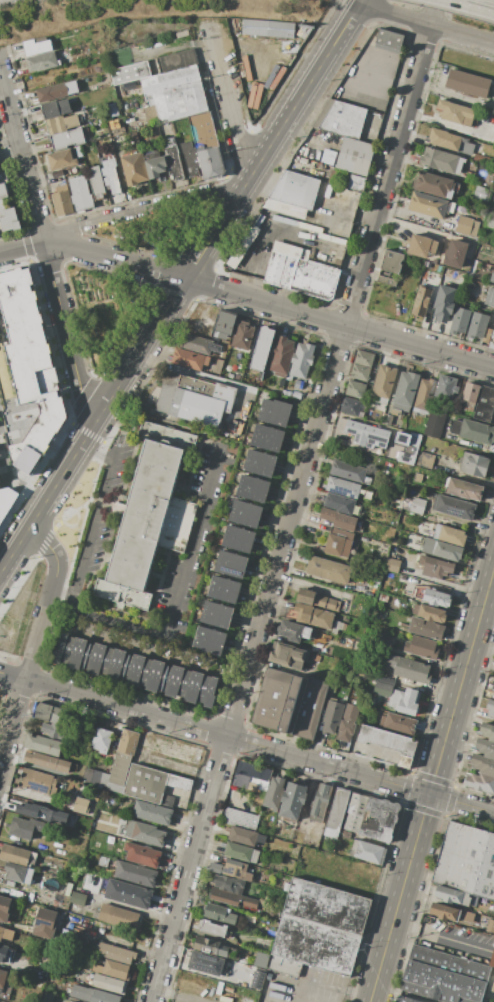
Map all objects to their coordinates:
road: (426, 25)
building: (266, 28)
building: (389, 39)
building: (36, 46)
road: (164, 49)
parking lot: (263, 54)
building: (41, 61)
building: (172, 62)
building: (130, 73)
building: (467, 84)
building: (71, 87)
building: (51, 92)
building: (175, 93)
road: (229, 102)
building: (55, 108)
building: (456, 112)
building: (151, 115)
building: (341, 119)
building: (62, 124)
road: (449, 126)
building: (202, 131)
building: (67, 139)
building: (134, 140)
building: (444, 140)
building: (326, 156)
building: (355, 156)
building: (190, 158)
building: (173, 159)
building: (61, 160)
building: (439, 160)
building: (210, 163)
building: (155, 167)
building: (134, 169)
building: (111, 176)
building: (96, 182)
building: (356, 183)
building: (434, 185)
building: (295, 189)
building: (3, 190)
building: (80, 193)
building: (480, 193)
building: (337, 195)
building: (62, 201)
building: (428, 205)
road: (145, 207)
building: (290, 209)
building: (8, 217)
building: (491, 221)
road: (278, 226)
building: (466, 226)
building: (422, 245)
road: (46, 246)
building: (242, 248)
building: (291, 251)
building: (455, 253)
building: (492, 257)
building: (392, 262)
building: (280, 270)
park: (125, 273)
building: (491, 277)
building: (315, 279)
building: (386, 281)
road: (180, 285)
building: (468, 286)
road: (247, 297)
building: (489, 297)
building: (421, 301)
building: (444, 302)
building: (459, 321)
building: (224, 324)
building: (477, 325)
building: (487, 335)
building: (492, 335)
building: (242, 338)
building: (196, 344)
building: (216, 347)
building: (262, 348)
building: (281, 355)
building: (364, 358)
building: (189, 359)
building: (302, 360)
building: (360, 372)
building: (383, 383)
building: (298, 384)
building: (447, 386)
building: (355, 390)
building: (405, 392)
building: (425, 395)
building: (469, 397)
building: (196, 401)
building: (485, 404)
building: (276, 406)
building: (350, 406)
building: (32, 414)
building: (272, 417)
building: (434, 425)
building: (269, 432)
building: (476, 432)
building: (367, 434)
building: (22, 443)
building: (266, 443)
building: (409, 449)
building: (262, 457)
building: (425, 460)
building: (474, 464)
building: (259, 468)
building: (349, 472)
building: (417, 477)
building: (255, 483)
building: (343, 487)
building: (464, 489)
building: (251, 494)
building: (5, 500)
road: (293, 500)
building: (339, 503)
building: (417, 506)
building: (453, 507)
building: (247, 508)
building: (430, 518)
building: (244, 519)
building: (338, 519)
road: (95, 520)
building: (147, 525)
road: (78, 531)
building: (240, 534)
building: (449, 535)
road: (194, 541)
building: (338, 542)
building: (236, 545)
building: (442, 549)
building: (232, 559)
building: (392, 564)
building: (437, 568)
building: (229, 569)
building: (328, 570)
building: (225, 584)
building: (222, 594)
building: (436, 598)
building: (317, 600)
building: (218, 609)
building: (432, 613)
building: (312, 615)
road: (113, 620)
building: (215, 620)
road: (51, 624)
building: (426, 628)
building: (295, 631)
building: (210, 634)
road: (35, 642)
road: (483, 645)
building: (208, 646)
building: (422, 647)
road: (143, 651)
building: (287, 655)
building: (408, 668)
building: (136, 670)
road: (233, 677)
building: (492, 685)
building: (383, 689)
park: (1, 698)
building: (279, 701)
building: (404, 701)
building: (310, 708)
building: (490, 708)
building: (47, 712)
building: (332, 716)
building: (348, 722)
building: (400, 723)
building: (55, 731)
building: (487, 731)
building: (101, 740)
building: (127, 742)
road: (246, 742)
building: (389, 743)
building: (43, 744)
building: (485, 748)
road: (1, 760)
building: (47, 761)
building: (483, 764)
building: (118, 772)
building: (251, 776)
building: (92, 777)
building: (38, 782)
building: (145, 783)
building: (179, 783)
building: (480, 783)
road: (432, 784)
building: (274, 793)
traffic signals: (430, 793)
building: (292, 800)
building: (321, 802)
building: (81, 805)
building: (40, 812)
building: (152, 812)
building: (354, 812)
building: (336, 813)
building: (240, 819)
building: (378, 820)
building: (25, 827)
building: (145, 832)
building: (245, 836)
building: (369, 852)
building: (241, 853)
building: (142, 854)
building: (17, 855)
building: (103, 861)
building: (466, 861)
building: (215, 868)
building: (236, 870)
building: (18, 873)
building: (135, 874)
building: (229, 884)
building: (128, 894)
building: (452, 896)
building: (78, 898)
building: (232, 898)
building: (327, 905)
building: (4, 908)
building: (490, 911)
building: (444, 912)
building: (219, 913)
building: (118, 916)
building: (465, 916)
building: (45, 923)
building: (490, 926)
building: (214, 928)
building: (6, 935)
road: (441, 938)
building: (316, 944)
building: (210, 946)
building: (3, 952)
building: (115, 953)
building: (259, 959)
building: (492, 959)
building: (205, 963)
building: (284, 966)
building: (116, 969)
building: (443, 976)
building: (2, 977)
building: (256, 981)
building: (108, 983)
building: (492, 987)
building: (92, 994)
road: (175, 996)
road: (322, 996)
building: (405, 999)
building: (74, 1001)

